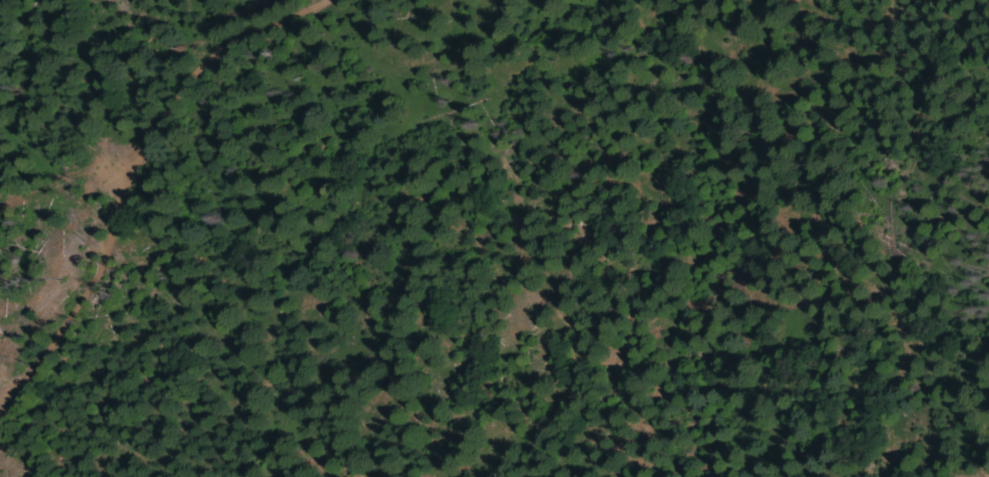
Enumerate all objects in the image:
road: (137, 187)

